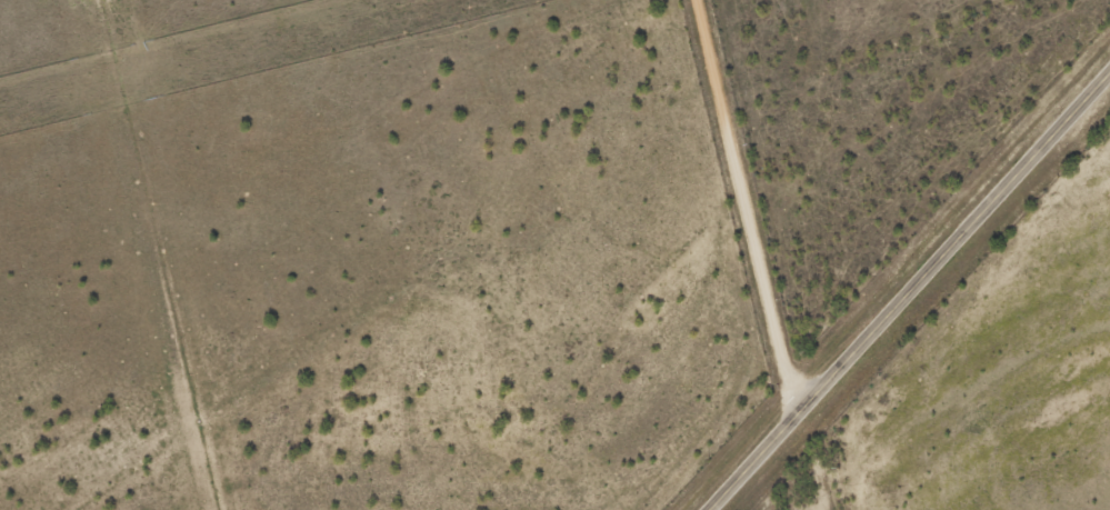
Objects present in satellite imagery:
road: (744, 211)
road: (911, 293)

